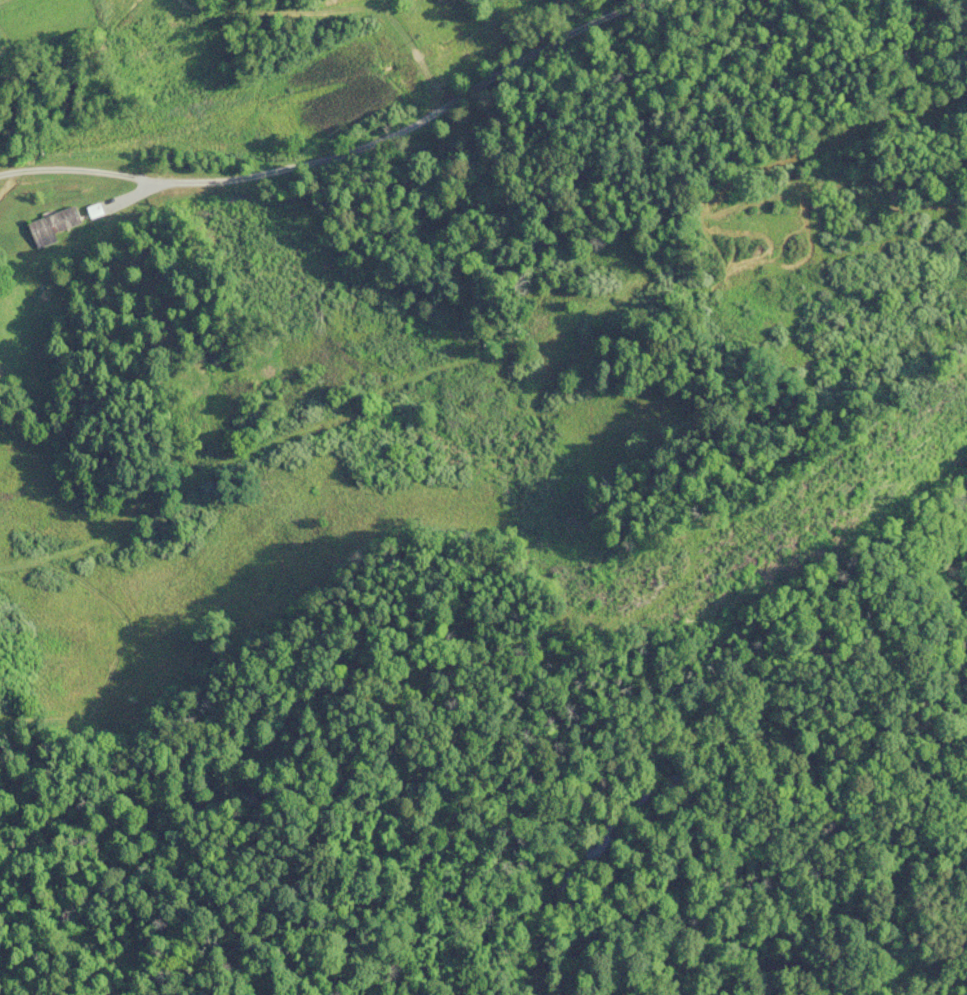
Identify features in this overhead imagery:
road: (405, 137)
building: (50, 222)

